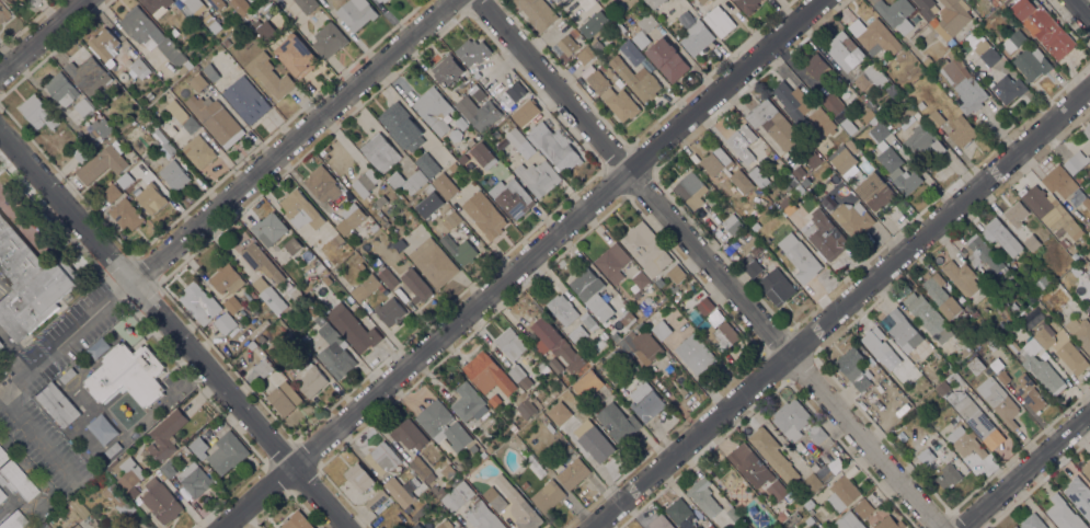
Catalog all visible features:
building: (379, 0)
building: (385, 0)
building: (554, 0)
building: (555, 0)
building: (713, 0)
building: (10, 1)
building: (23, 1)
building: (702, 1)
building: (653, 2)
building: (996, 2)
building: (217, 3)
building: (307, 4)
building: (747, 5)
building: (157, 7)
building: (195, 7)
building: (240, 7)
building: (928, 8)
road: (1080, 10)
building: (3, 13)
building: (187, 13)
building: (356, 13)
building: (538, 13)
building: (895, 13)
building: (953, 14)
building: (719, 21)
building: (211, 22)
building: (594, 23)
building: (1043, 26)
building: (641, 28)
building: (174, 32)
building: (573, 32)
building: (149, 34)
building: (874, 34)
building: (969, 35)
road: (43, 37)
building: (696, 37)
building: (1012, 38)
building: (329, 39)
building: (227, 42)
building: (104, 44)
building: (597, 45)
building: (567, 47)
building: (844, 50)
building: (986, 51)
building: (473, 53)
building: (631, 53)
building: (297, 55)
building: (586, 55)
building: (667, 59)
building: (927, 59)
building: (1032, 62)
building: (492, 64)
building: (139, 66)
building: (819, 67)
building: (447, 69)
building: (210, 72)
building: (89, 76)
building: (269, 76)
building: (869, 78)
building: (636, 79)
building: (597, 80)
building: (198, 82)
building: (618, 82)
building: (963, 82)
building: (61, 88)
building: (1009, 88)
building: (892, 90)
building: (479, 93)
building: (513, 93)
building: (245, 100)
building: (793, 101)
building: (620, 103)
building: (833, 103)
building: (871, 103)
building: (84, 107)
building: (434, 110)
building: (38, 112)
building: (478, 112)
building: (526, 112)
building: (917, 115)
building: (182, 116)
building: (869, 116)
building: (934, 118)
building: (216, 119)
building: (823, 120)
building: (461, 123)
building: (773, 123)
building: (848, 125)
building: (402, 126)
building: (100, 129)
building: (962, 129)
building: (1087, 129)
building: (455, 135)
building: (922, 140)
building: (164, 141)
road: (287, 141)
building: (470, 141)
building: (742, 141)
building: (520, 142)
building: (553, 145)
building: (851, 145)
building: (198, 151)
building: (380, 152)
building: (81, 153)
building: (483, 156)
building: (462, 159)
building: (893, 160)
building: (103, 161)
building: (845, 161)
building: (1076, 161)
building: (427, 164)
building: (1089, 165)
building: (454, 167)
building: (725, 168)
building: (799, 171)
building: (174, 174)
building: (538, 176)
building: (758, 177)
building: (1078, 179)
building: (408, 180)
building: (365, 182)
building: (322, 183)
building: (445, 185)
building: (787, 185)
building: (1065, 185)
building: (428, 188)
building: (799, 188)
building: (757, 191)
building: (111, 193)
building: (692, 193)
building: (401, 196)
building: (151, 197)
building: (512, 197)
building: (881, 197)
building: (381, 200)
building: (787, 205)
building: (301, 209)
building: (1052, 211)
building: (126, 213)
building: (1017, 213)
building: (484, 214)
building: (351, 217)
building: (852, 217)
building: (451, 219)
building: (733, 223)
building: (374, 227)
building: (269, 228)
building: (747, 232)
building: (825, 236)
building: (1001, 236)
building: (337, 239)
building: (1032, 242)
building: (1064, 242)
building: (292, 244)
building: (400, 244)
building: (723, 244)
building: (645, 248)
building: (459, 249)
building: (1089, 252)
building: (303, 253)
building: (982, 253)
building: (800, 257)
building: (262, 262)
building: (433, 262)
building: (612, 262)
road: (523, 263)
road: (708, 263)
building: (1016, 263)
building: (755, 265)
building: (360, 266)
building: (1087, 267)
building: (675, 275)
building: (962, 276)
building: (388, 277)
building: (227, 278)
building: (640, 278)
building: (326, 279)
building: (659, 282)
building: (1042, 283)
building: (28, 284)
building: (416, 285)
building: (777, 286)
road: (119, 287)
building: (366, 287)
building: (634, 287)
building: (590, 292)
building: (269, 295)
building: (942, 295)
building: (200, 302)
building: (232, 303)
building: (705, 305)
building: (1013, 306)
road: (840, 307)
building: (562, 309)
building: (1088, 309)
building: (1003, 310)
building: (390, 311)
building: (641, 314)
building: (929, 315)
building: (1020, 315)
building: (627, 318)
building: (714, 318)
building: (588, 320)
building: (225, 322)
building: (349, 324)
building: (662, 329)
building: (903, 329)
building: (1080, 331)
road: (170, 333)
building: (577, 334)
building: (1044, 334)
building: (722, 335)
building: (262, 338)
building: (509, 342)
road: (57, 344)
building: (252, 344)
building: (555, 344)
building: (875, 344)
building: (0, 345)
building: (639, 345)
building: (97, 348)
building: (333, 351)
building: (964, 352)
building: (696, 354)
building: (1072, 357)
building: (957, 358)
building: (554, 364)
building: (976, 365)
building: (542, 366)
building: (1039, 366)
building: (264, 367)
building: (854, 368)
building: (487, 374)
building: (577, 374)
building: (68, 375)
building: (127, 375)
building: (519, 376)
building: (1003, 376)
building: (312, 380)
building: (587, 383)
building: (551, 395)
building: (284, 398)
building: (1034, 398)
building: (998, 400)
building: (645, 401)
building: (468, 402)
building: (493, 402)
building: (57, 404)
building: (526, 409)
building: (559, 412)
building: (972, 415)
building: (618, 422)
building: (798, 422)
building: (443, 425)
building: (513, 426)
building: (102, 428)
building: (409, 434)
building: (165, 435)
road: (36, 437)
building: (965, 441)
building: (597, 444)
building: (198, 445)
building: (473, 447)
building: (569, 447)
building: (489, 448)
building: (113, 449)
building: (227, 452)
building: (2, 457)
building: (382, 457)
building: (781, 460)
building: (749, 464)
building: (168, 467)
building: (953, 467)
building: (1087, 468)
building: (422, 469)
building: (447, 470)
road: (1025, 471)
building: (573, 473)
building: (130, 474)
building: (359, 477)
building: (195, 479)
building: (18, 480)
building: (525, 484)
building: (777, 490)
building: (398, 491)
building: (437, 491)
building: (842, 493)
building: (1079, 494)
building: (1, 495)
building: (548, 495)
building: (457, 496)
building: (703, 496)
building: (493, 498)
building: (119, 500)
building: (376, 500)
building: (160, 501)
building: (796, 503)
building: (808, 503)
building: (77, 507)
building: (867, 509)
building: (523, 510)
building: (64, 512)
building: (681, 513)
building: (732, 514)
building: (1064, 514)
building: (483, 516)
building: (781, 516)
building: (792, 519)
building: (13, 520)
building: (297, 520)
building: (849, 520)
building: (661, 521)
building: (1033, 521)
building: (888, 523)
building: (94, 524)
building: (445, 524)
building: (44, 526)
building: (76, 526)
building: (416, 526)
building: (709, 526)
building: (135, 527)
building: (1016, 527)

